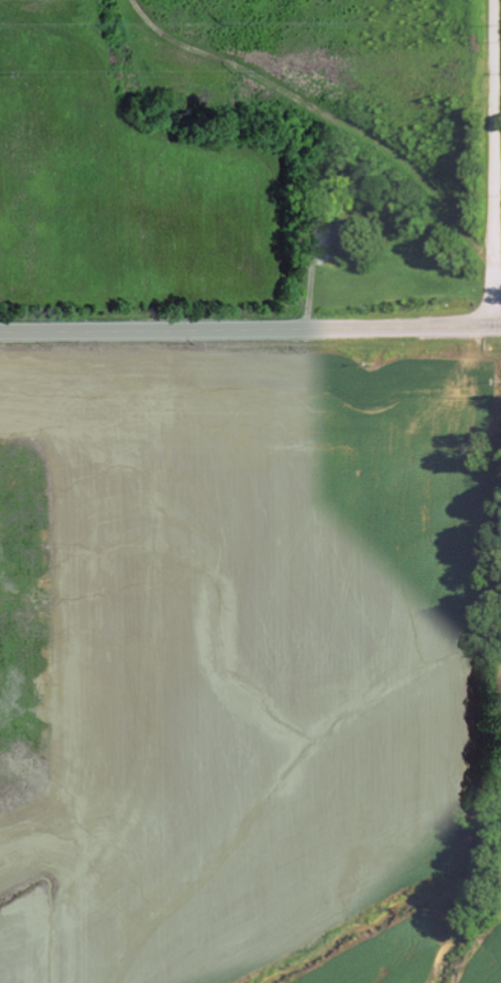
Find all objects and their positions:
road: (492, 162)
building: (330, 236)
road: (250, 328)

